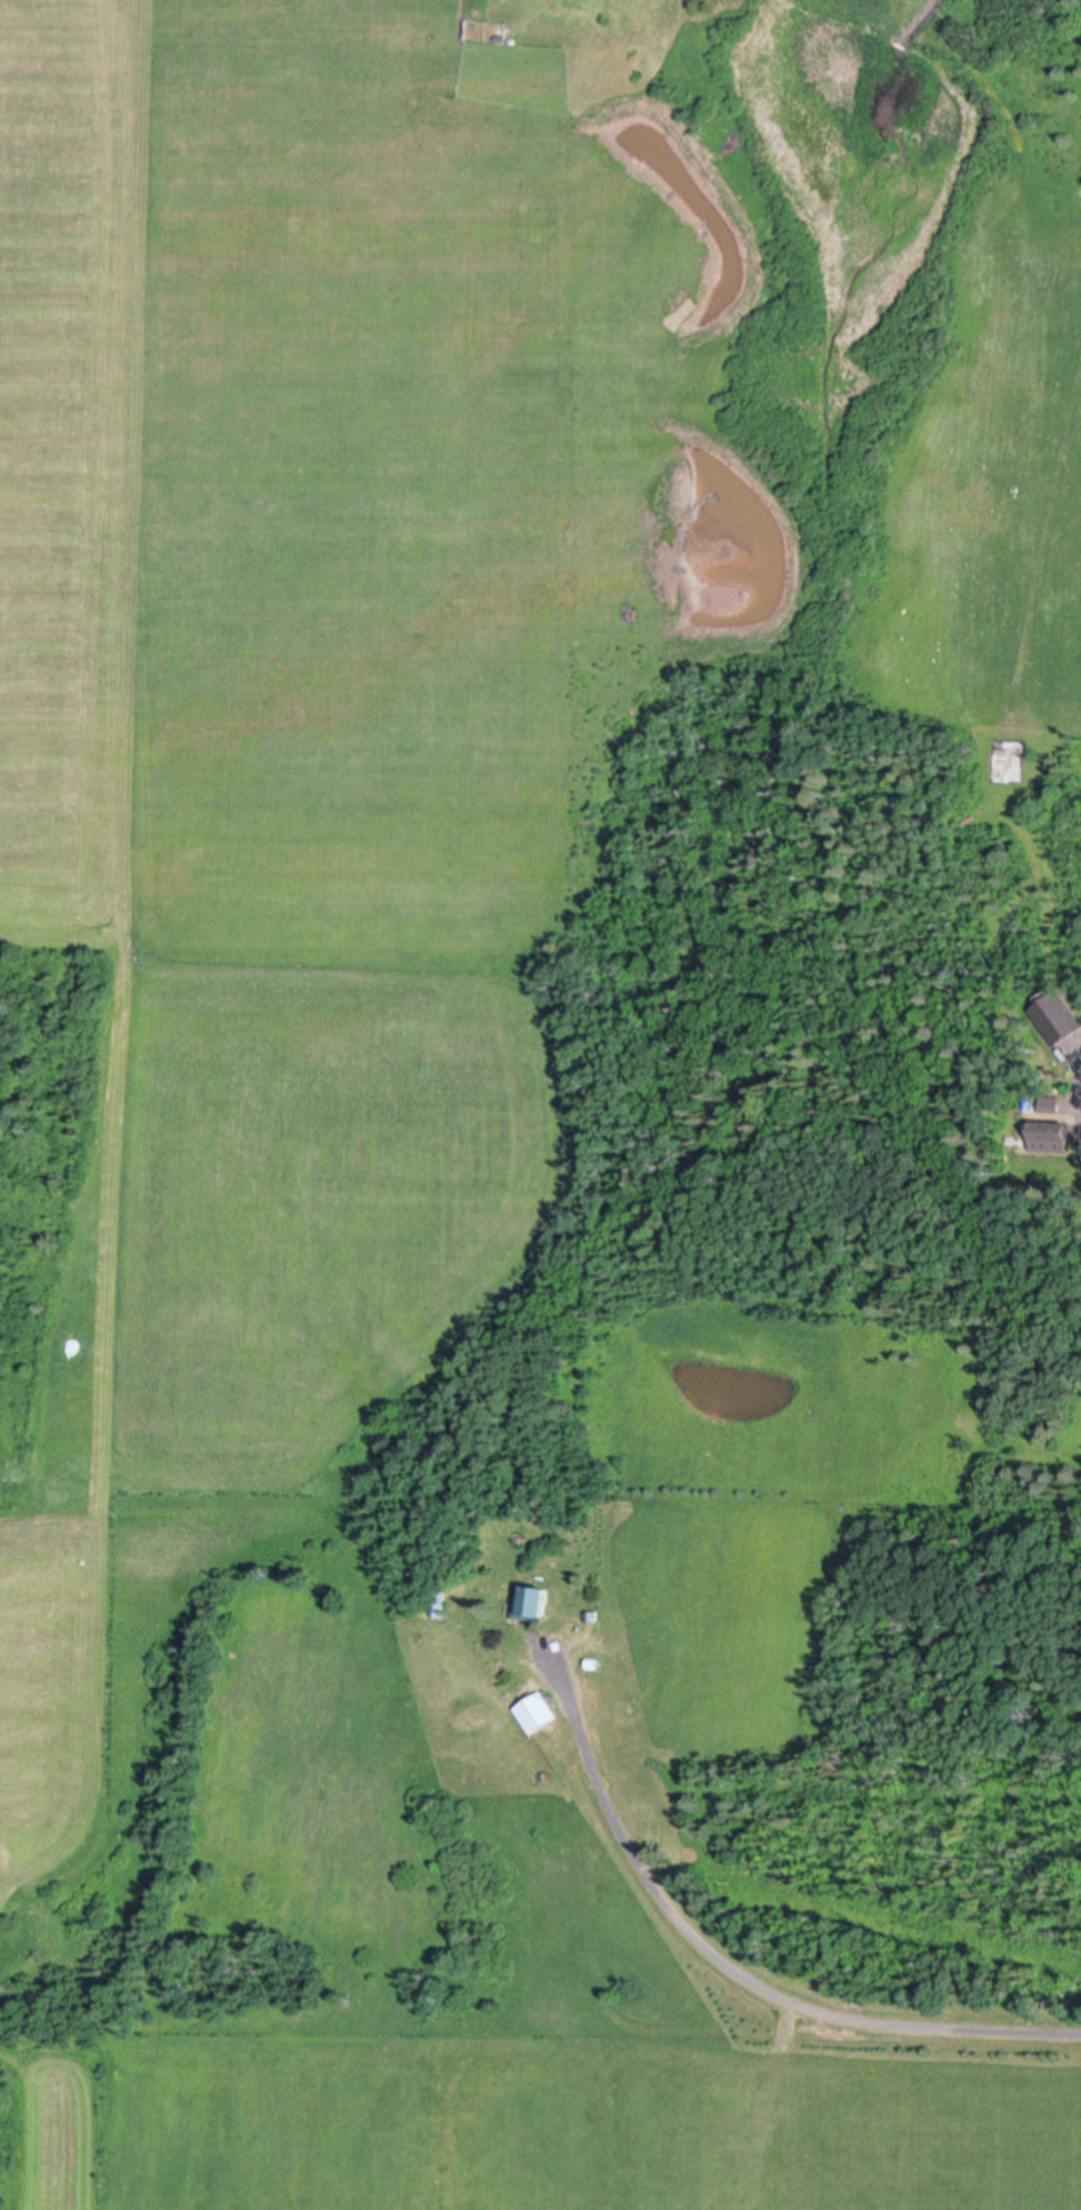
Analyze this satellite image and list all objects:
building: (632, 29)
building: (1051, 1103)
building: (1050, 1132)
building: (531, 1599)
building: (437, 1600)
building: (590, 1614)
building: (592, 1661)
building: (538, 1711)
road: (734, 1972)

